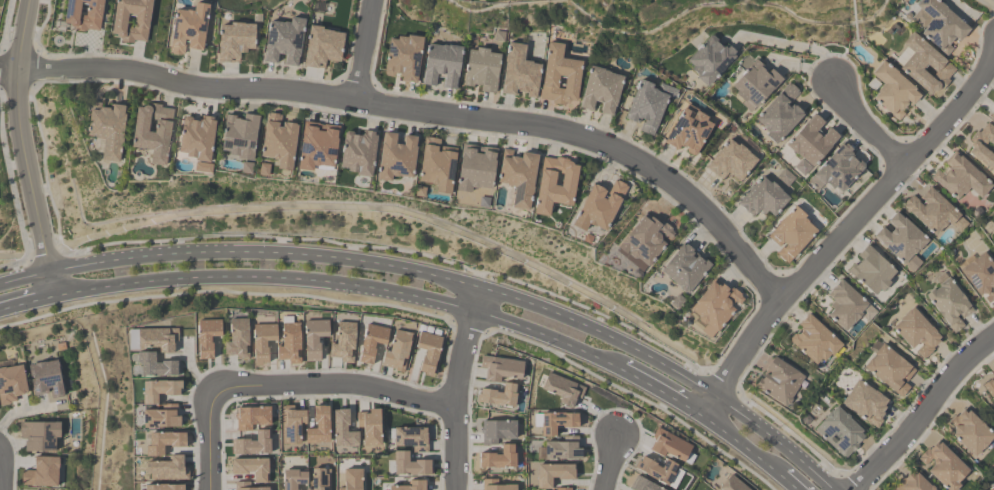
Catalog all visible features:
building: (84, 14)
building: (132, 20)
road: (7, 23)
building: (939, 24)
building: (189, 29)
building: (285, 41)
building: (234, 42)
building: (322, 47)
road: (795, 48)
road: (364, 50)
building: (404, 58)
building: (710, 60)
building: (442, 65)
building: (926, 67)
building: (481, 70)
road: (8, 72)
building: (520, 73)
road: (201, 74)
building: (559, 76)
building: (755, 85)
building: (601, 90)
building: (893, 92)
building: (649, 105)
road: (428, 112)
building: (992, 114)
building: (779, 115)
building: (107, 128)
road: (865, 128)
building: (689, 130)
building: (153, 131)
building: (240, 136)
road: (21, 137)
building: (197, 138)
building: (279, 141)
building: (812, 141)
building: (318, 145)
building: (983, 146)
building: (358, 153)
building: (396, 157)
building: (731, 161)
building: (437, 165)
building: (476, 167)
building: (839, 168)
building: (518, 177)
building: (961, 178)
building: (555, 185)
road: (13, 193)
building: (763, 198)
building: (599, 206)
building: (934, 213)
road: (852, 223)
road: (860, 233)
building: (792, 234)
building: (645, 242)
building: (902, 242)
building: (993, 244)
road: (287, 255)
road: (17, 265)
road: (93, 266)
road: (795, 266)
building: (685, 268)
building: (872, 271)
building: (980, 276)
road: (25, 279)
road: (293, 279)
road: (458, 281)
road: (54, 284)
road: (111, 288)
road: (475, 299)
road: (29, 303)
building: (950, 304)
road: (446, 305)
road: (537, 305)
building: (844, 305)
building: (715, 307)
road: (500, 321)
building: (916, 333)
building: (206, 338)
building: (314, 338)
building: (158, 339)
building: (238, 339)
building: (814, 340)
building: (262, 341)
building: (344, 342)
building: (372, 342)
building: (290, 344)
building: (397, 350)
building: (428, 351)
road: (578, 351)
road: (658, 359)
road: (719, 361)
building: (156, 365)
building: (501, 369)
building: (890, 370)
building: (46, 379)
building: (779, 382)
building: (11, 384)
road: (289, 385)
building: (989, 389)
building: (159, 390)
building: (563, 390)
road: (664, 394)
building: (499, 396)
road: (456, 400)
building: (865, 404)
road: (709, 406)
road: (27, 411)
road: (925, 411)
building: (162, 417)
building: (251, 417)
building: (557, 422)
building: (292, 425)
building: (318, 427)
building: (370, 427)
building: (344, 430)
building: (498, 431)
building: (840, 432)
building: (970, 433)
building: (40, 435)
building: (412, 438)
road: (778, 441)
building: (164, 442)
building: (252, 445)
road: (738, 445)
building: (669, 446)
building: (563, 450)
building: (499, 458)
building: (411, 465)
road: (610, 465)
building: (943, 467)
building: (251, 468)
building: (167, 469)
road: (0, 470)
building: (658, 470)
building: (42, 472)
building: (553, 475)
building: (294, 479)
building: (321, 479)
building: (353, 479)
road: (786, 482)
building: (912, 483)
building: (733, 484)
building: (496, 485)
building: (643, 485)
building: (246, 486)
building: (411, 486)
building: (165, 487)
building: (562, 489)
building: (992, 489)

